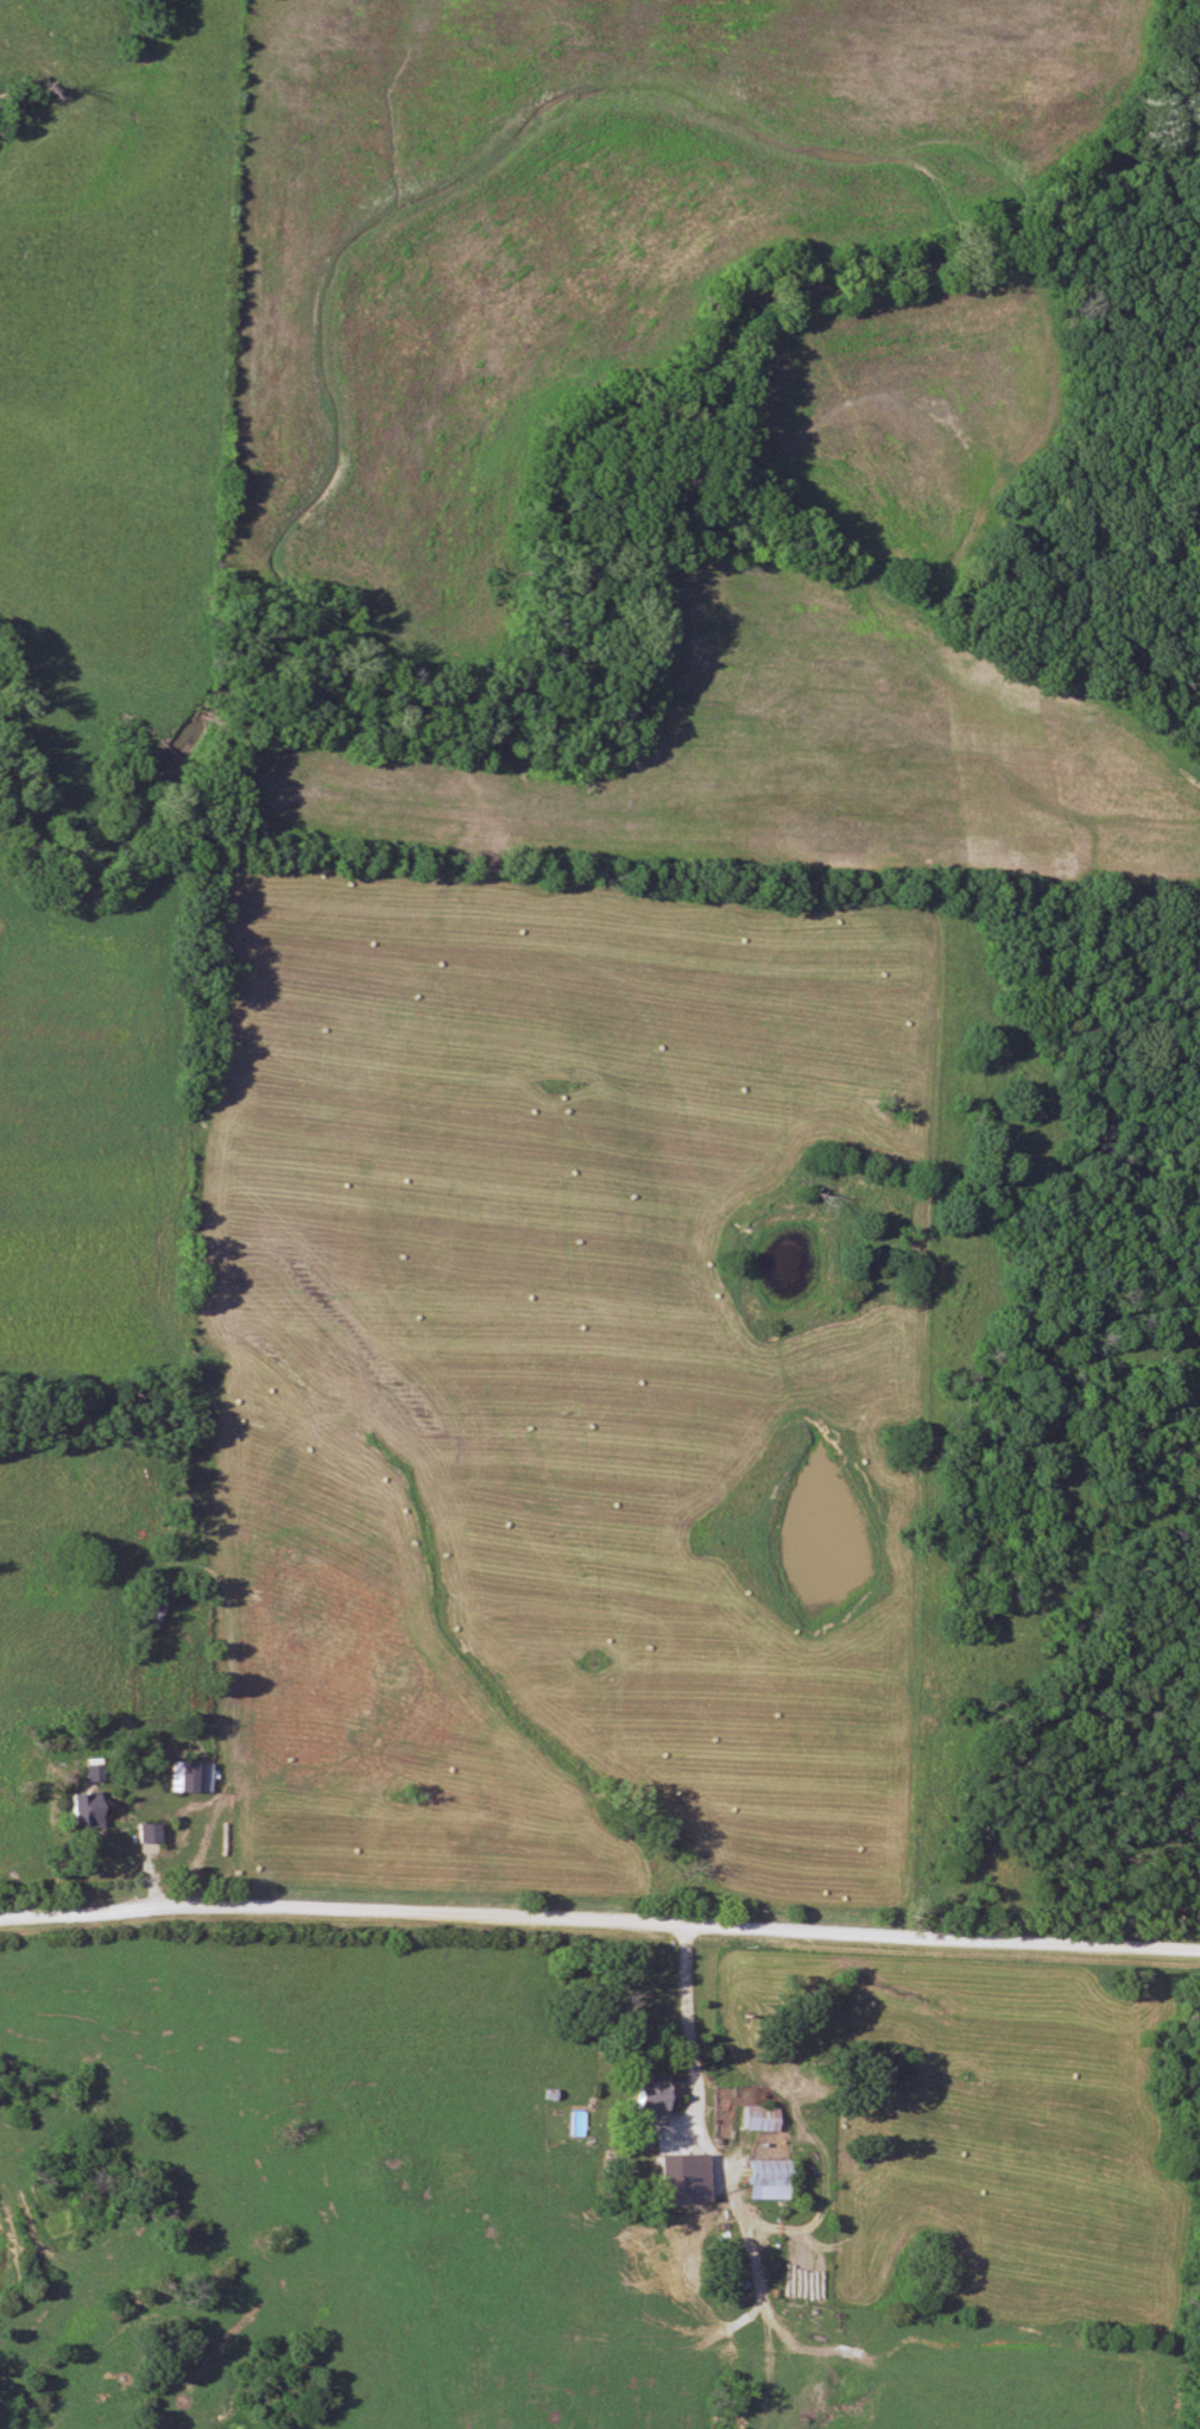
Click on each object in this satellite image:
building: (157, 1614)
building: (95, 1771)
building: (192, 1777)
building: (95, 1809)
road: (599, 1923)
road: (686, 2024)
building: (655, 2099)
building: (762, 2118)
building: (772, 2179)

